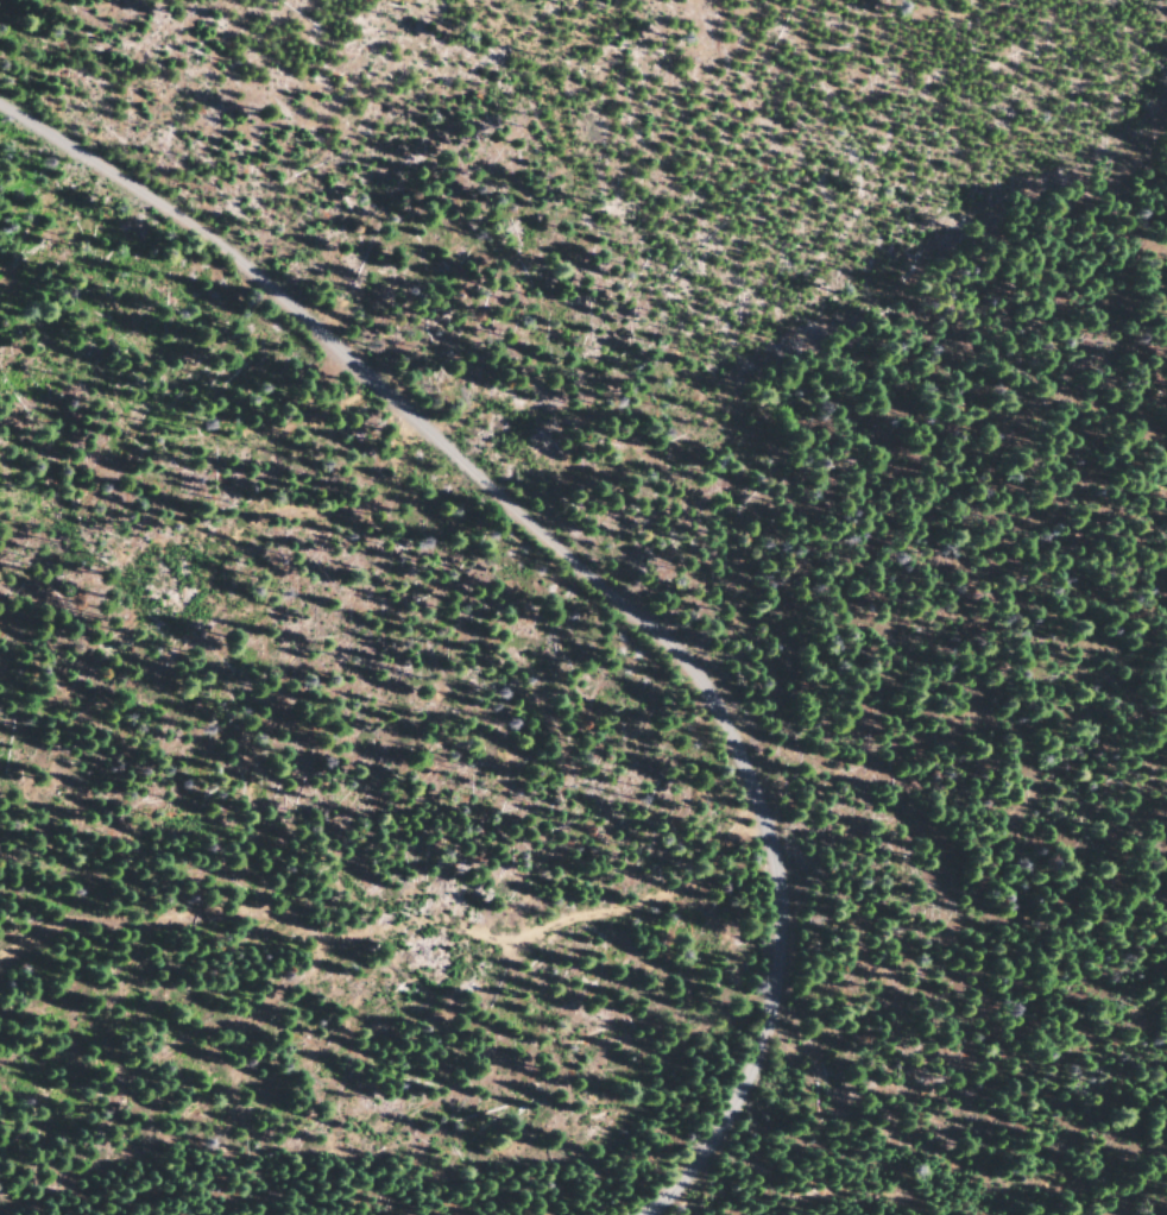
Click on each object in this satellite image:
road: (543, 479)
road: (714, 1151)

